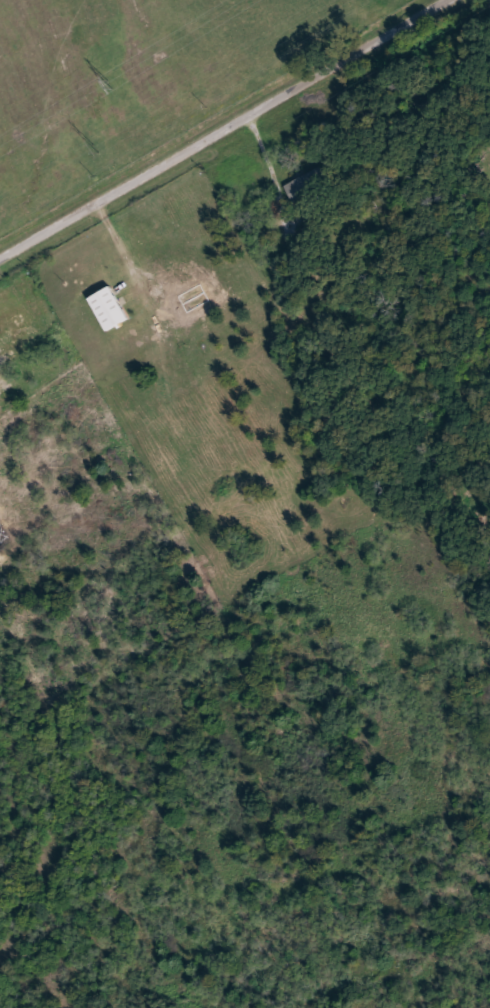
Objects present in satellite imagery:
road: (223, 129)
building: (307, 189)
building: (109, 308)

